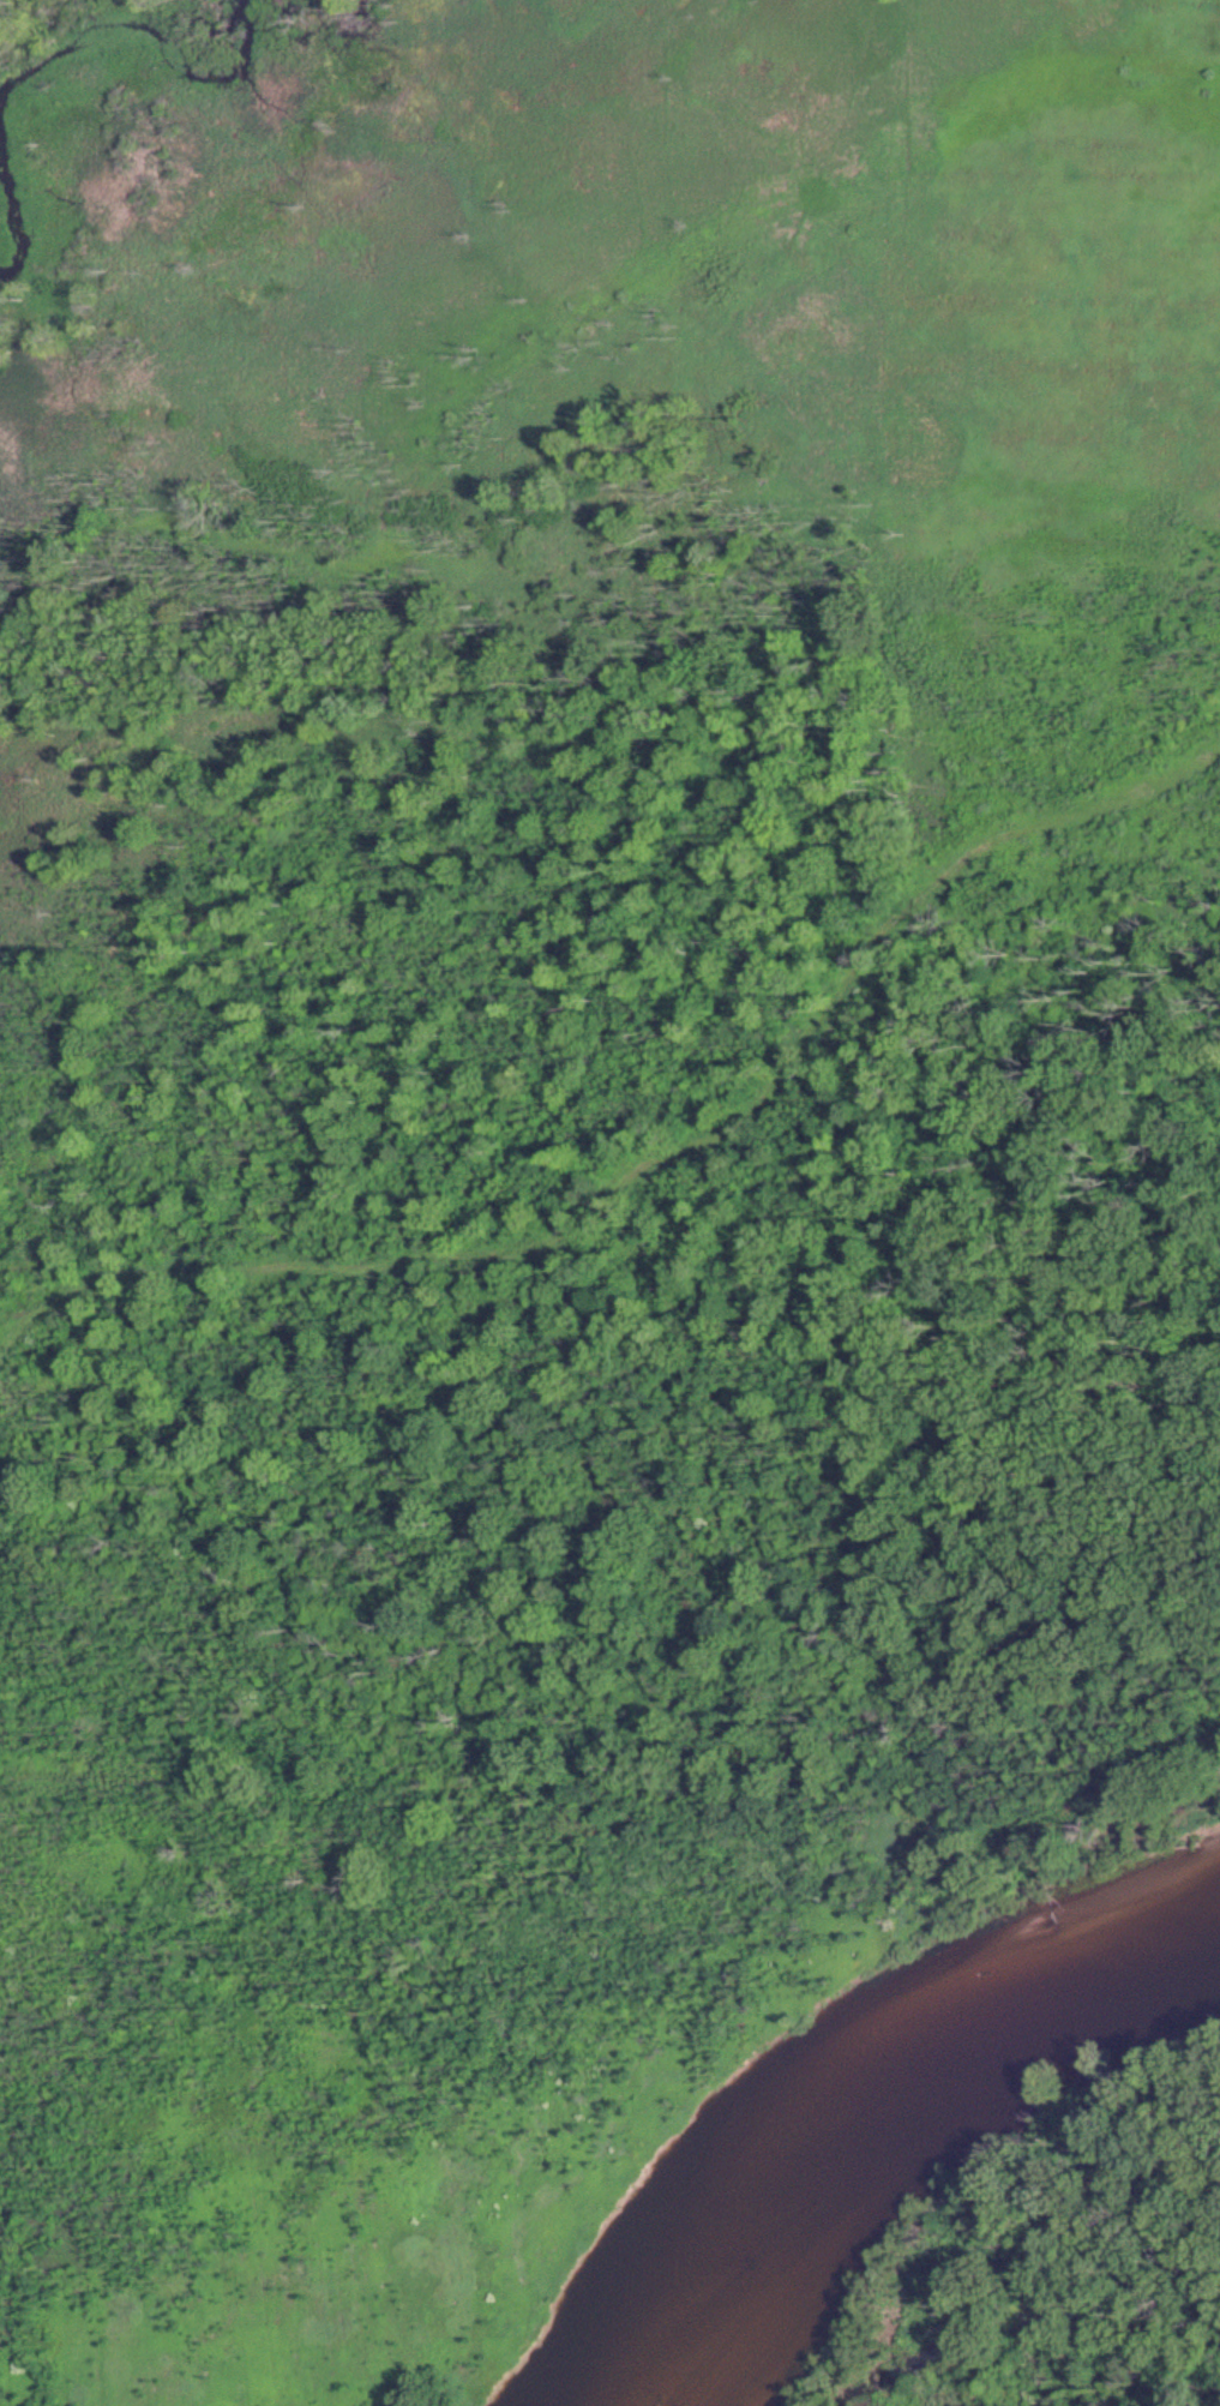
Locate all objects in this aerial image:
river: (895, 2112)
road: (972, 2398)

